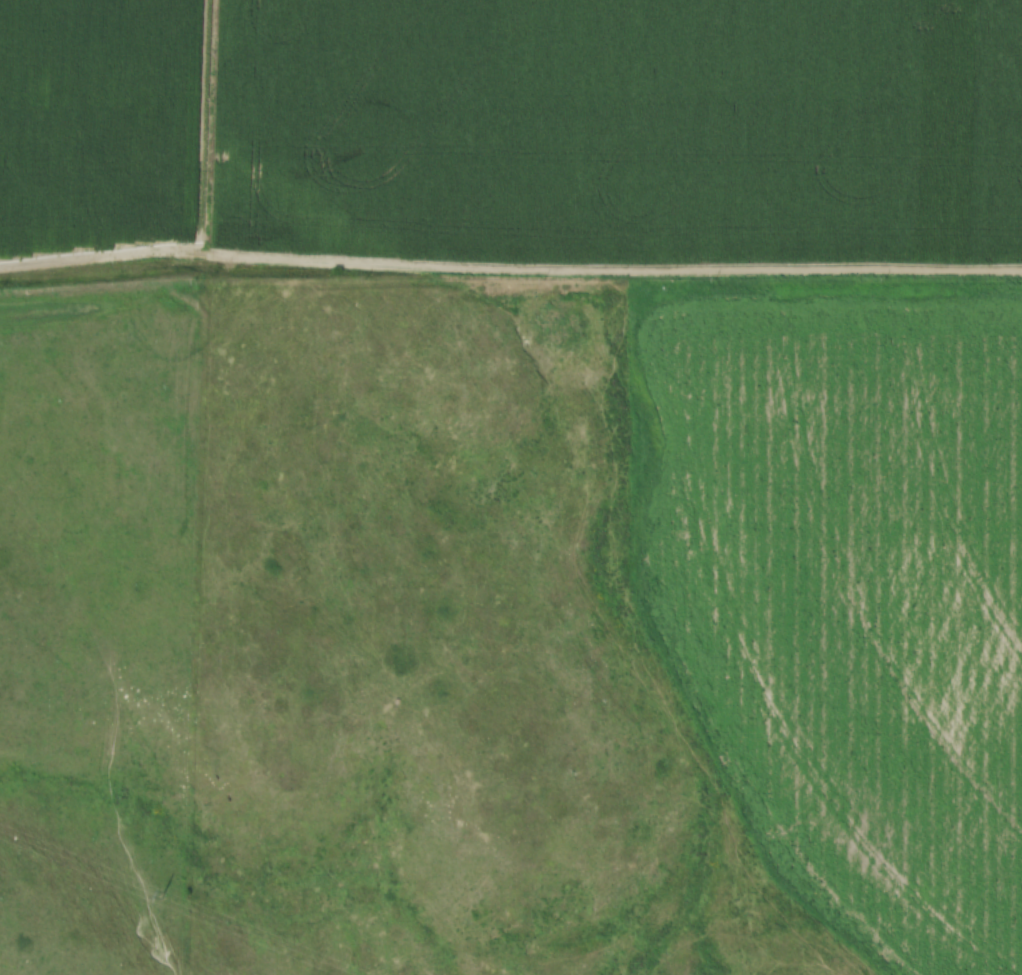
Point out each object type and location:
power tower: (165, 892)

